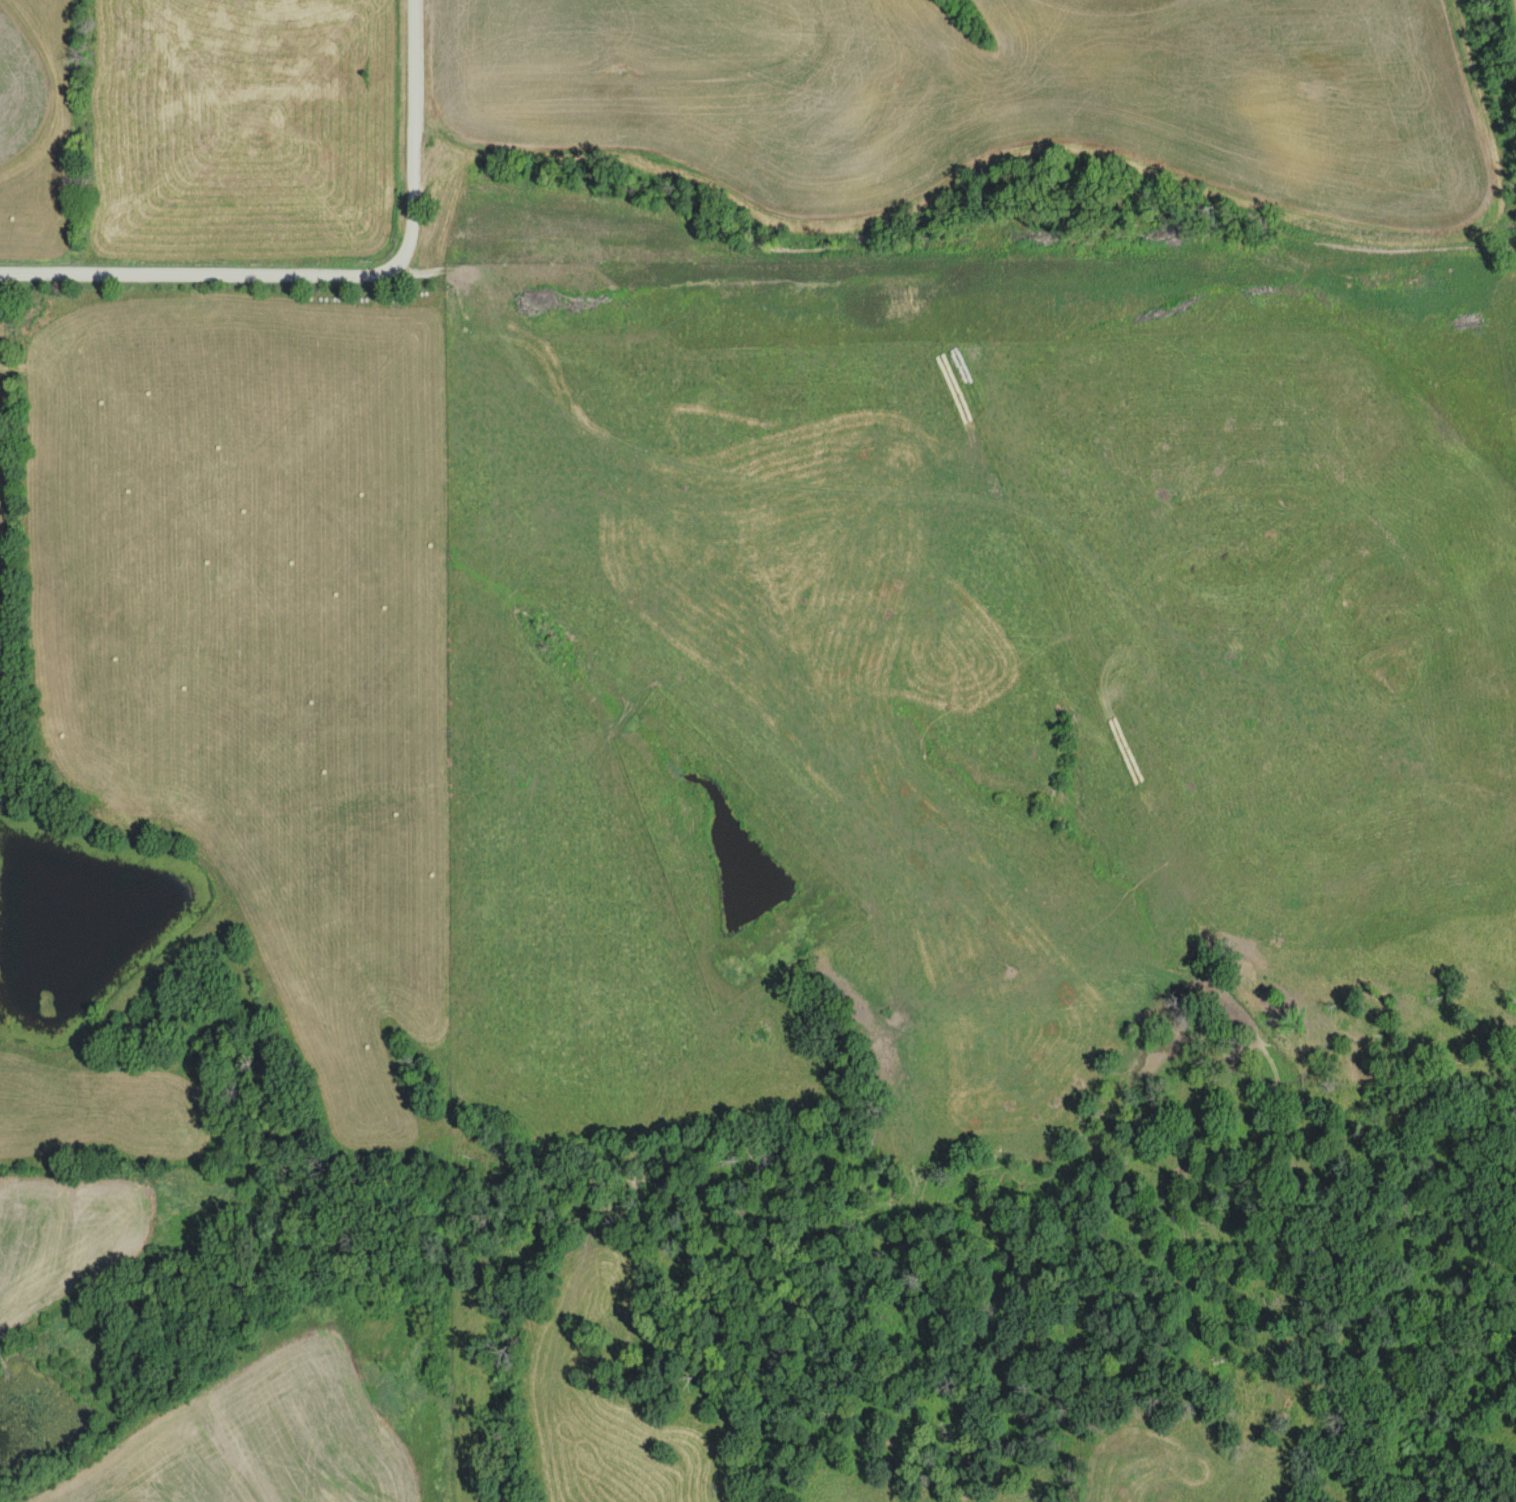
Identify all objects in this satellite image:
road: (413, 137)
road: (207, 273)

